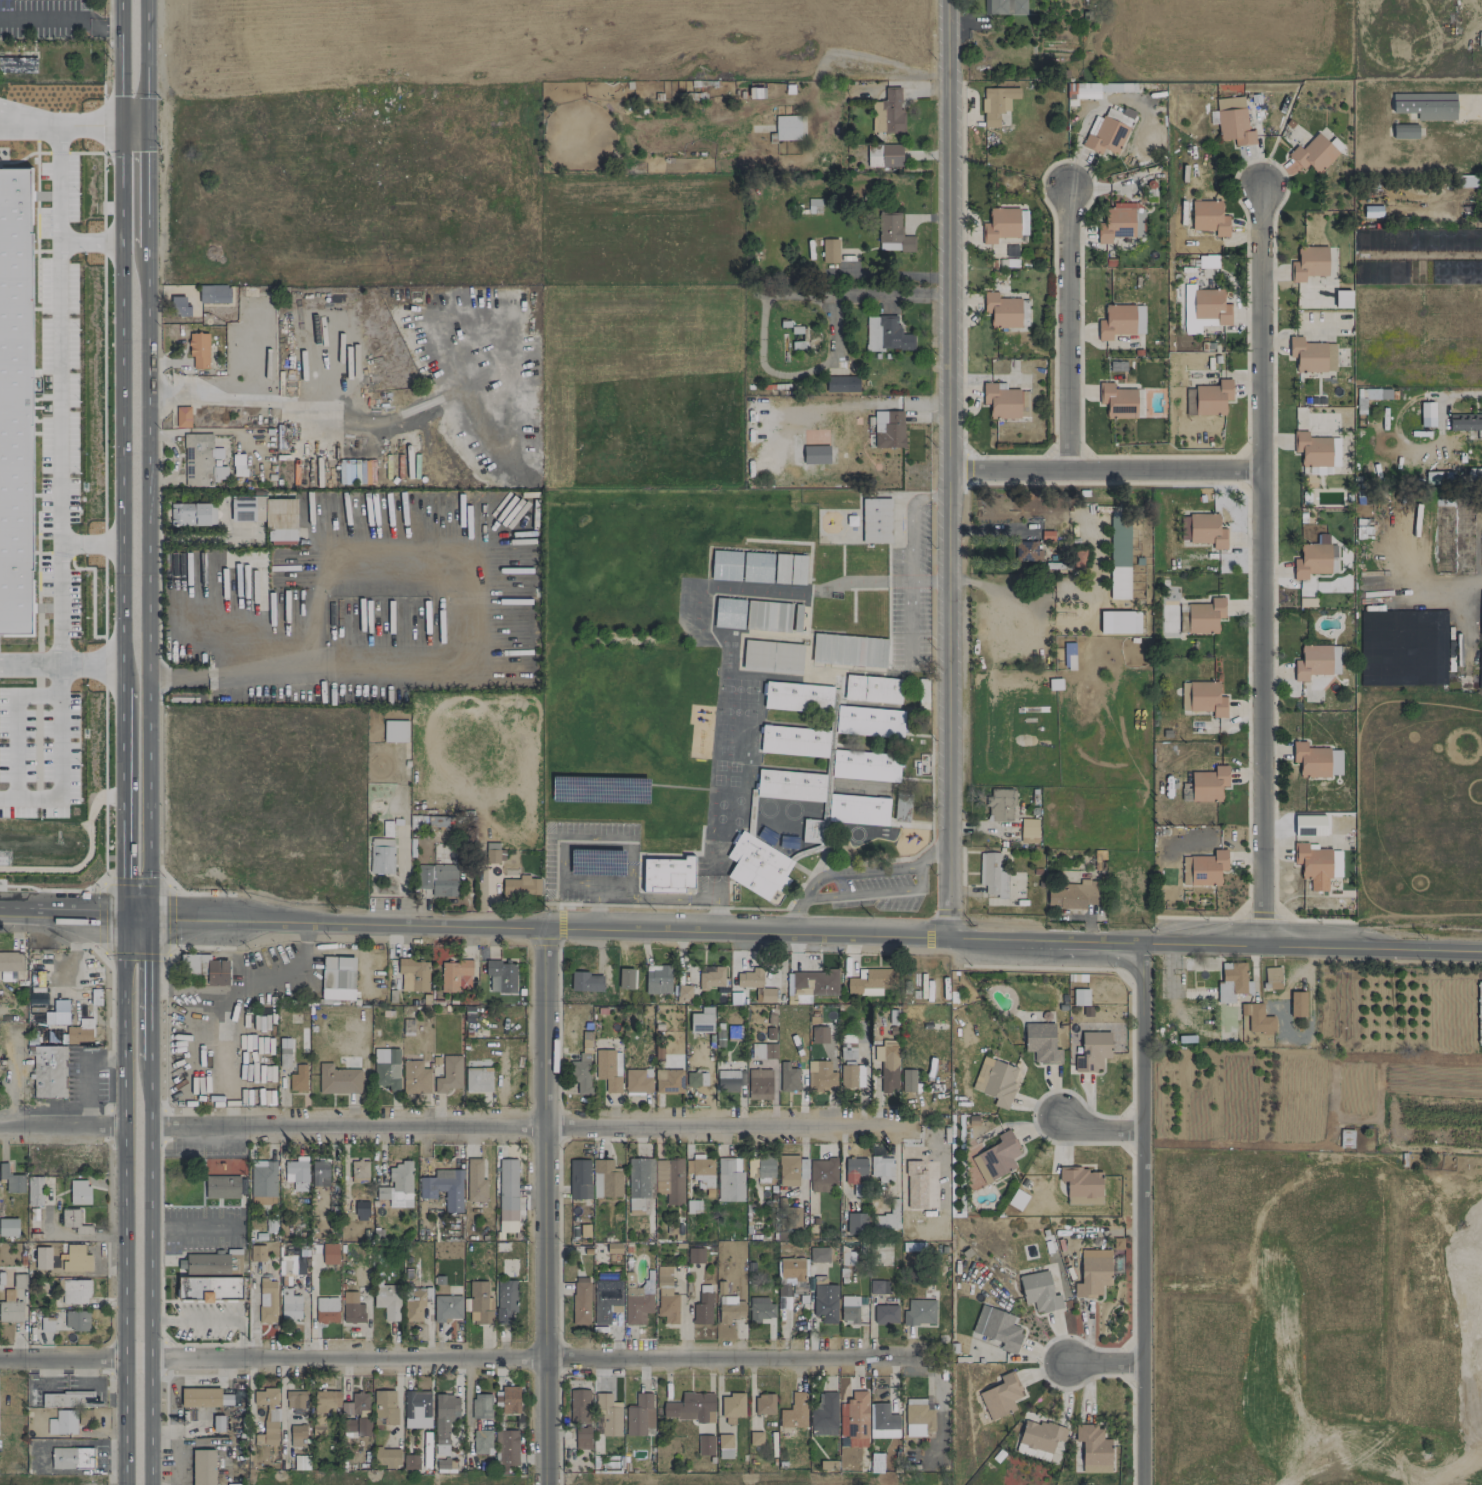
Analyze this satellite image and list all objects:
building: (1005, 6)
road: (60, 19)
road: (145, 61)
building: (18, 65)
building: (1082, 90)
building: (756, 92)
building: (996, 104)
building: (1425, 105)
building: (887, 113)
building: (1120, 115)
building: (1233, 121)
road: (133, 123)
road: (29, 124)
road: (90, 124)
building: (787, 127)
building: (1404, 131)
building: (1105, 136)
building: (1313, 154)
building: (884, 155)
building: (1464, 181)
road: (146, 182)
building: (814, 205)
building: (1209, 217)
building: (1120, 222)
building: (1000, 224)
building: (892, 234)
road: (134, 241)
road: (90, 242)
building: (829, 250)
building: (1208, 260)
building: (1309, 263)
building: (214, 294)
building: (1342, 299)
building: (179, 306)
building: (1203, 308)
building: (1002, 310)
building: (1120, 321)
road: (1067, 328)
road: (121, 332)
building: (886, 334)
building: (198, 349)
building: (1312, 355)
building: (1186, 360)
building: (1116, 366)
building: (836, 383)
road: (59, 393)
road: (1462, 394)
building: (1369, 396)
building: (15, 397)
building: (1212, 397)
building: (1005, 401)
building: (1117, 401)
building: (1189, 401)
road: (311, 409)
building: (1426, 414)
building: (182, 416)
building: (1465, 422)
building: (888, 429)
building: (1334, 447)
building: (1312, 449)
building: (200, 462)
building: (237, 464)
road: (947, 467)
road: (1104, 470)
building: (345, 473)
building: (1480, 474)
building: (1433, 478)
building: (189, 514)
building: (269, 515)
building: (876, 520)
building: (1183, 527)
building: (1206, 530)
building: (1444, 535)
road: (91, 544)
road: (339, 552)
building: (1027, 554)
building: (1119, 558)
building: (1315, 558)
building: (1079, 559)
road: (1260, 562)
building: (725, 565)
building: (757, 567)
road: (148, 581)
road: (1431, 585)
road: (999, 593)
building: (728, 613)
building: (1205, 615)
building: (768, 616)
building: (1182, 618)
building: (1119, 621)
building: (1480, 646)
building: (848, 650)
building: (1068, 655)
building: (771, 657)
road: (30, 661)
building: (1316, 661)
road: (91, 663)
road: (319, 678)
building: (1054, 684)
building: (872, 689)
building: (797, 697)
building: (1202, 698)
building: (868, 721)
building: (395, 731)
building: (793, 741)
road: (59, 760)
building: (1316, 760)
building: (864, 765)
building: (1208, 784)
building: (790, 785)
road: (123, 791)
building: (1000, 805)
building: (857, 809)
building: (901, 809)
building: (1028, 830)
road: (621, 838)
building: (492, 852)
building: (381, 856)
building: (1098, 859)
building: (1317, 865)
building: (757, 866)
building: (1203, 868)
road: (855, 872)
building: (992, 874)
building: (667, 875)
building: (437, 879)
road: (402, 885)
building: (521, 886)
road: (873, 893)
building: (1072, 894)
building: (775, 897)
traffic signals: (125, 919)
traffic signals: (148, 920)
road: (745, 928)
building: (10, 965)
building: (413, 975)
building: (455, 976)
building: (710, 976)
building: (1272, 977)
building: (38, 978)
building: (337, 978)
building: (625, 978)
building: (749, 978)
building: (657, 979)
building: (871, 981)
building: (586, 982)
building: (814, 983)
building: (1232, 983)
road: (245, 984)
building: (683, 993)
building: (767, 995)
building: (1080, 997)
building: (34, 1003)
road: (148, 1004)
building: (1297, 1004)
road: (7, 1010)
building: (1479, 1011)
building: (57, 1013)
building: (1259, 1019)
building: (701, 1020)
building: (80, 1032)
building: (733, 1032)
building: (819, 1034)
road: (194, 1040)
building: (1041, 1042)
building: (847, 1047)
building: (763, 1051)
building: (1092, 1051)
building: (284, 1053)
building: (887, 1066)
building: (386, 1068)
building: (608, 1069)
building: (48, 1071)
building: (448, 1074)
building: (581, 1074)
road: (79, 1076)
building: (819, 1076)
building: (851, 1076)
building: (415, 1077)
building: (477, 1077)
building: (787, 1077)
building: (298, 1078)
road: (10, 1079)
building: (338, 1079)
building: (696, 1079)
building: (637, 1080)
building: (729, 1080)
building: (908, 1080)
building: (668, 1081)
building: (997, 1081)
building: (759, 1084)
road: (208, 1091)
road: (1098, 1129)
road: (62, 1130)
road: (515, 1130)
building: (996, 1157)
building: (765, 1166)
building: (881, 1168)
building: (791, 1170)
building: (359, 1171)
building: (701, 1171)
building: (855, 1171)
building: (319, 1172)
building: (297, 1173)
building: (823, 1175)
building: (11, 1179)
building: (579, 1179)
building: (605, 1179)
building: (669, 1180)
building: (474, 1181)
building: (729, 1181)
building: (263, 1183)
building: (916, 1183)
building: (397, 1184)
building: (639, 1184)
building: (1082, 1185)
building: (222, 1187)
building: (443, 1188)
building: (35, 1190)
building: (79, 1191)
building: (507, 1195)
road: (124, 1201)
road: (541, 1205)
building: (361, 1208)
road: (1142, 1212)
building: (887, 1217)
building: (70, 1218)
building: (856, 1223)
building: (271, 1226)
building: (8, 1227)
road: (86, 1237)
building: (257, 1253)
building: (329, 1253)
building: (818, 1254)
building: (695, 1255)
building: (76, 1258)
building: (205, 1264)
building: (283, 1264)
building: (1093, 1273)
building: (790, 1279)
building: (19, 1281)
road: (150, 1287)
building: (878, 1287)
building: (210, 1288)
building: (75, 1291)
building: (1038, 1291)
building: (666, 1296)
building: (267, 1300)
building: (387, 1300)
building: (505, 1300)
building: (824, 1300)
building: (414, 1303)
building: (479, 1303)
building: (580, 1303)
building: (606, 1303)
building: (289, 1304)
building: (637, 1304)
building: (446, 1307)
building: (10, 1308)
building: (352, 1308)
building: (326, 1309)
building: (702, 1309)
building: (730, 1309)
building: (760, 1309)
building: (849, 1309)
building: (920, 1311)
building: (885, 1314)
road: (213, 1318)
building: (76, 1320)
building: (46, 1324)
building: (997, 1327)
road: (535, 1359)
road: (62, 1361)
road: (1103, 1362)
building: (1000, 1396)
building: (200, 1397)
building: (295, 1398)
building: (68, 1399)
building: (507, 1399)
building: (355, 1404)
building: (764, 1404)
building: (481, 1406)
building: (579, 1406)
building: (384, 1407)
building: (691, 1407)
building: (732, 1407)
building: (323, 1408)
building: (416, 1409)
building: (794, 1411)
building: (267, 1415)
building: (639, 1415)
building: (824, 1415)
building: (84, 1416)
building: (444, 1416)
building: (608, 1416)
building: (917, 1417)
building: (854, 1419)
building: (882, 1421)
building: (65, 1422)
building: (50, 1426)
building: (356, 1427)
building: (297, 1435)
building: (1040, 1435)
building: (582, 1437)
building: (755, 1437)
building: (481, 1441)
building: (705, 1445)
building: (724, 1446)
building: (440, 1449)
building: (1093, 1449)
building: (506, 1450)
building: (426, 1454)
building: (386, 1457)
building: (71, 1458)
building: (410, 1462)
building: (875, 1462)
building: (445, 1465)
building: (203, 1467)

